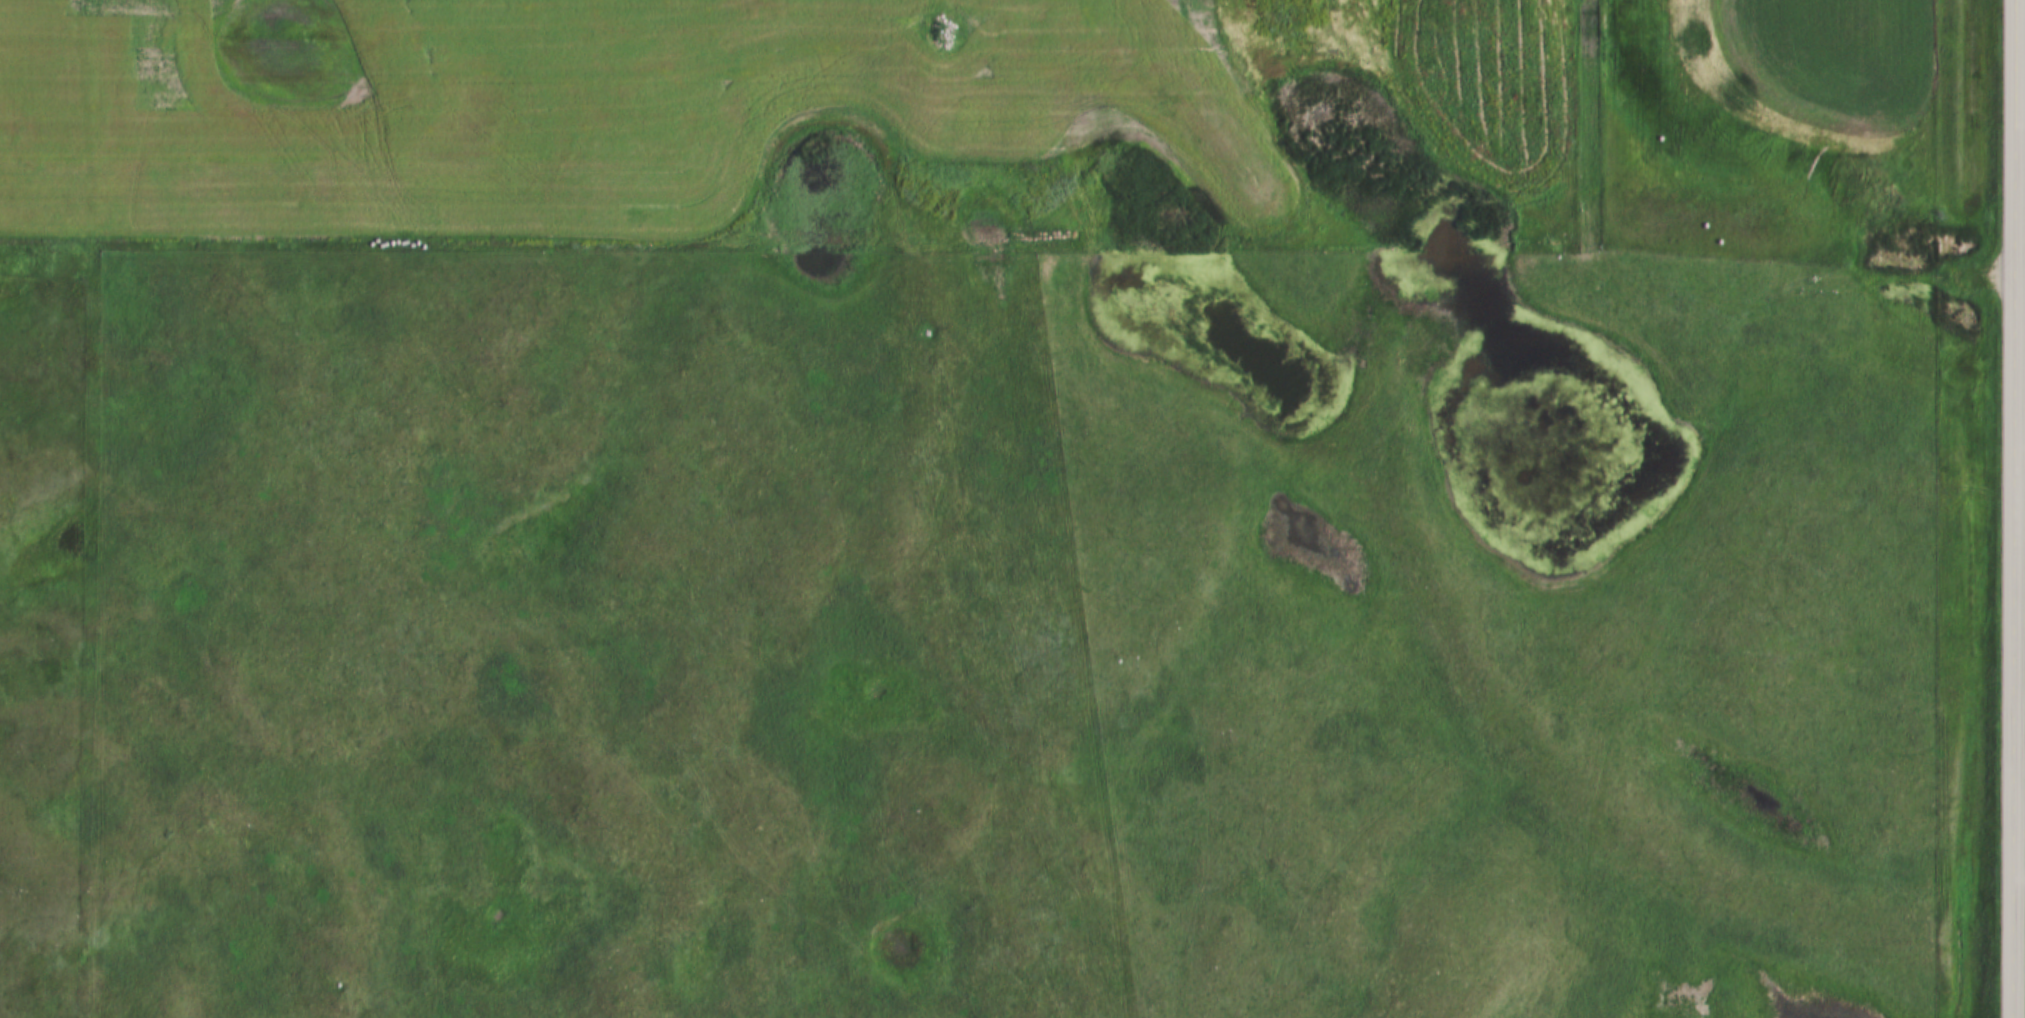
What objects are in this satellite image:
road: (2021, 275)
road: (2015, 508)

